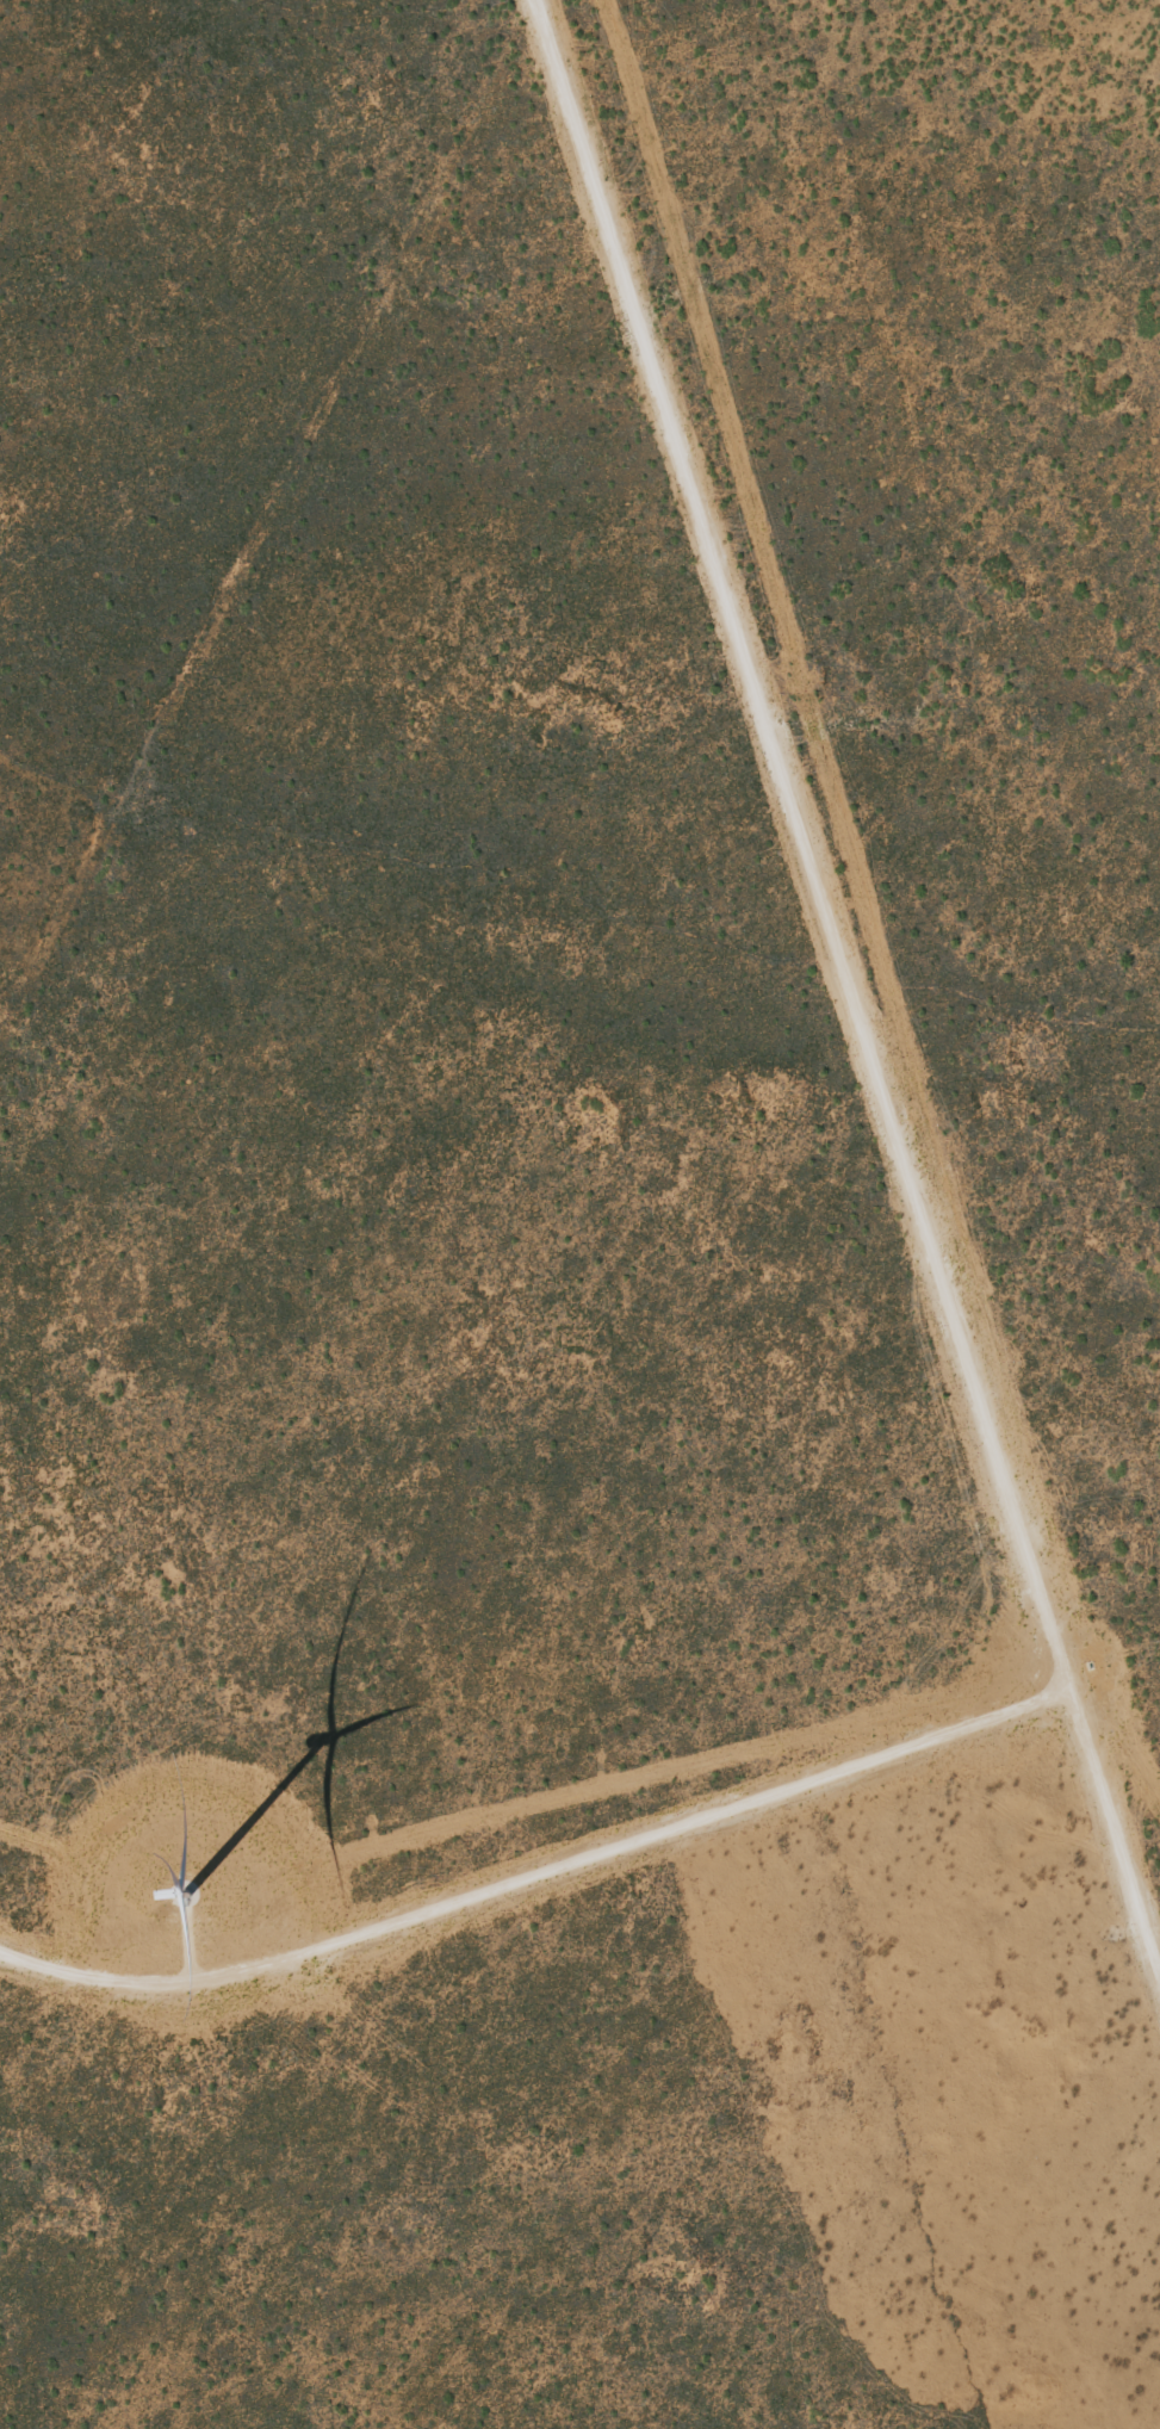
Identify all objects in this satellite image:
wind turbine: (174, 1927)

